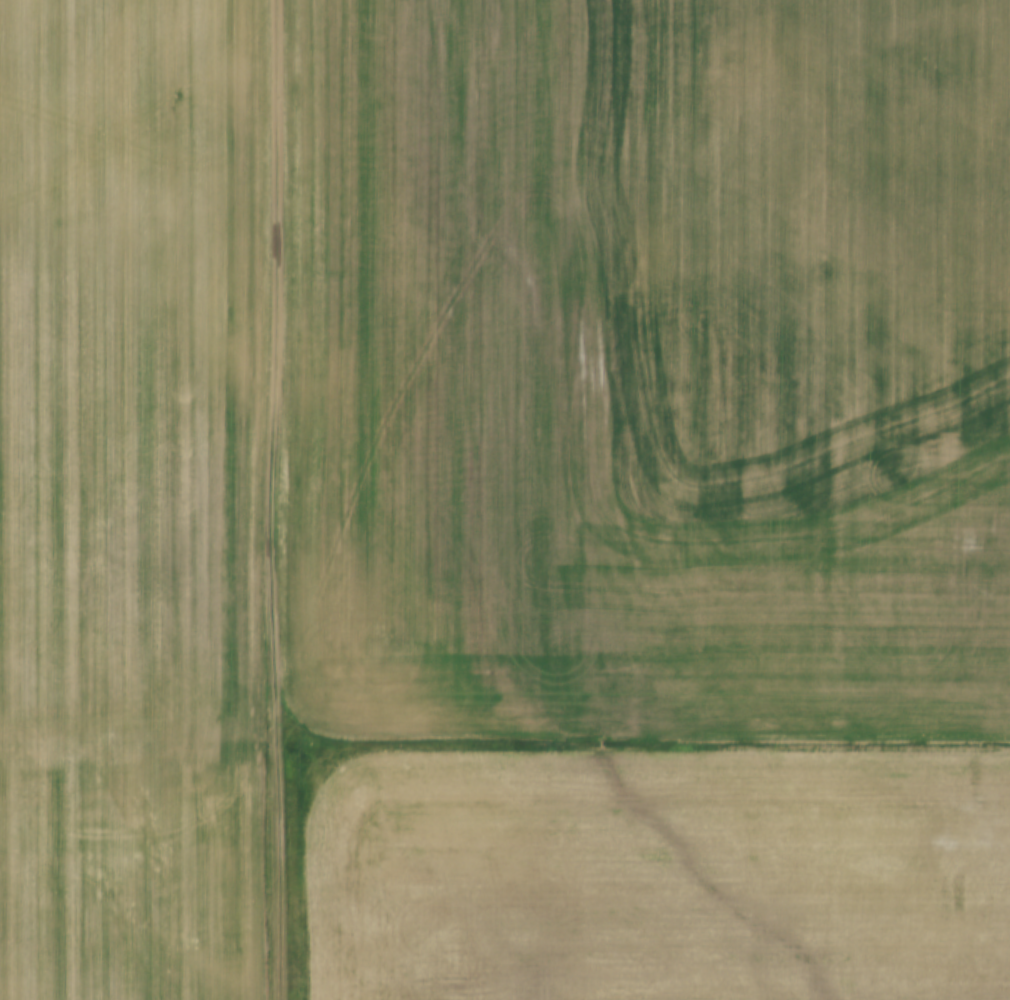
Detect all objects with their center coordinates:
road: (275, 500)
road: (136, 745)

